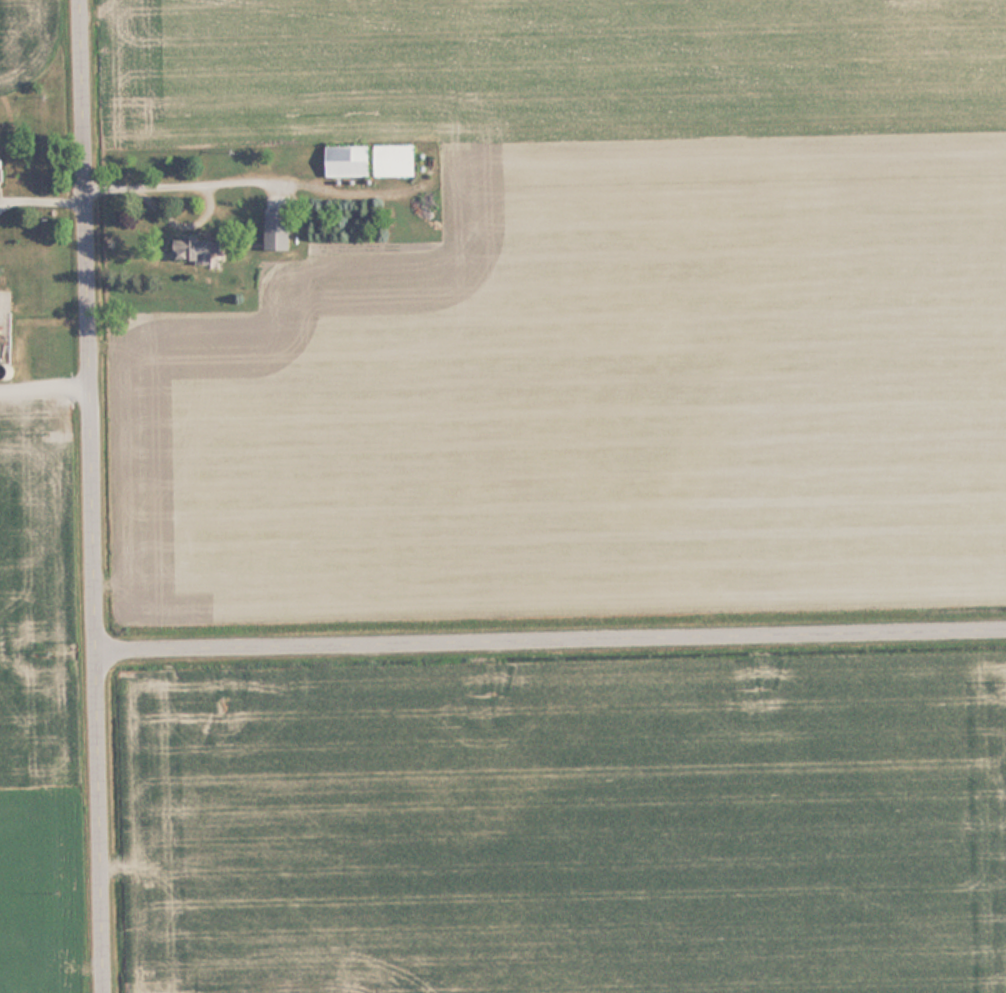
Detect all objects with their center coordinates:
building: (351, 161)
building: (396, 161)
building: (280, 229)
building: (202, 249)
road: (100, 496)
road: (555, 634)

